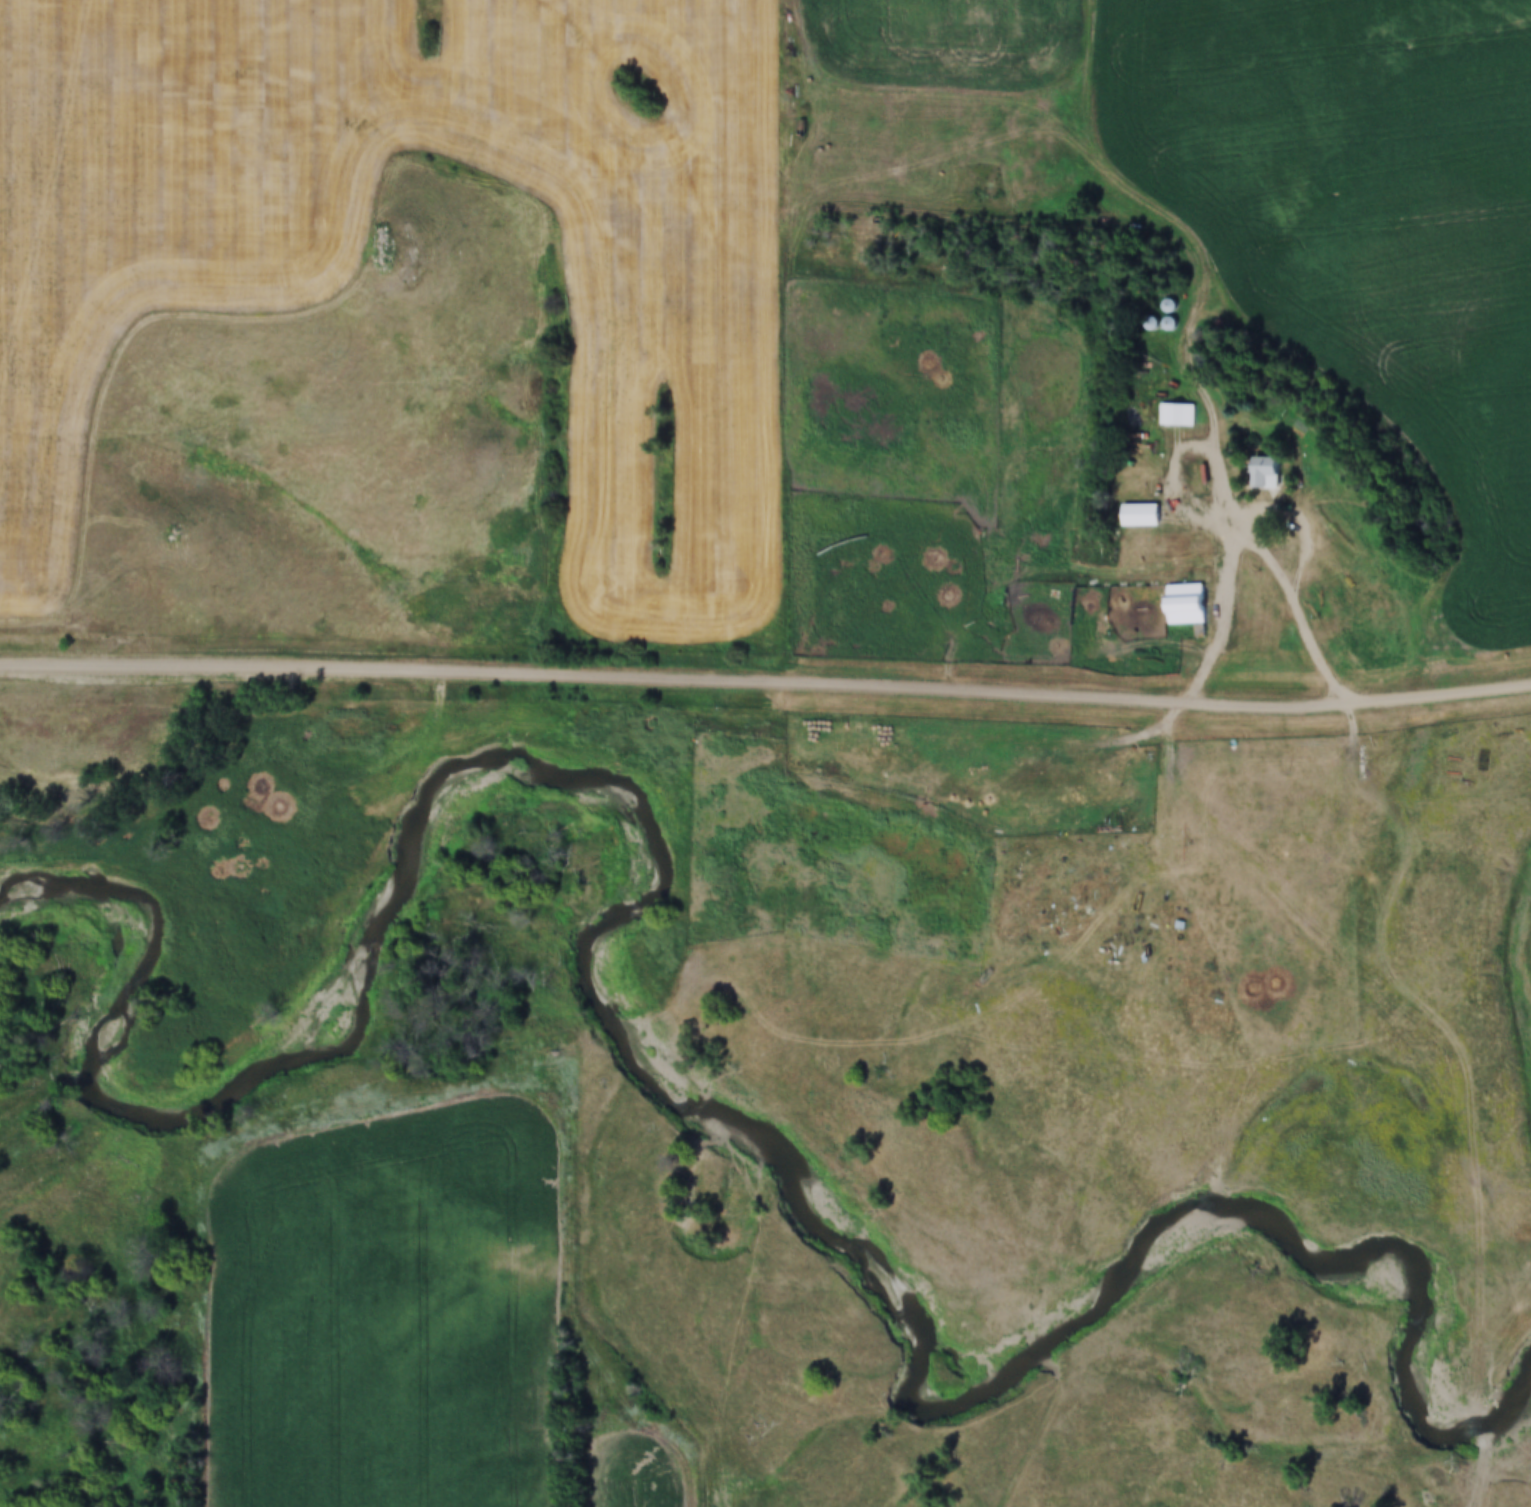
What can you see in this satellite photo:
building: (1179, 415)
building: (1270, 470)
building: (1143, 515)
road: (1243, 528)
building: (1188, 605)
road: (766, 683)

